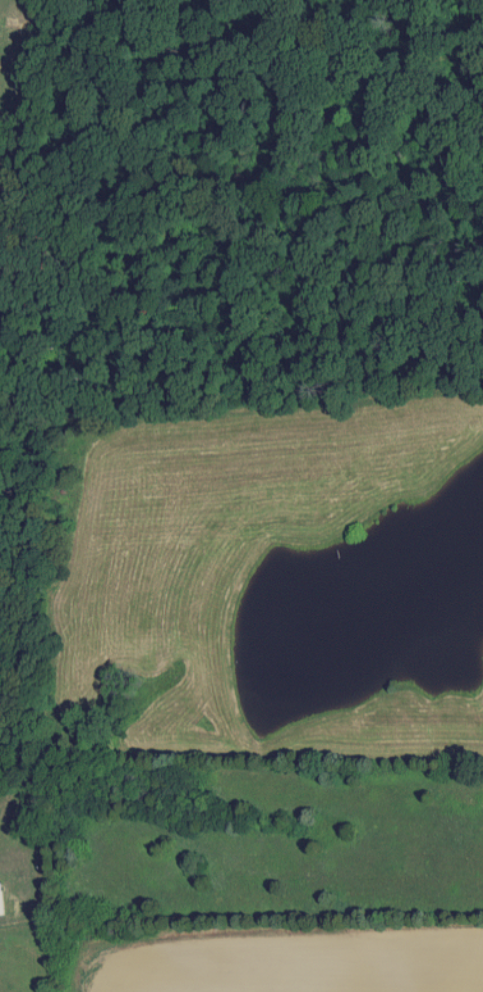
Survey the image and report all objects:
building: (0, 899)

